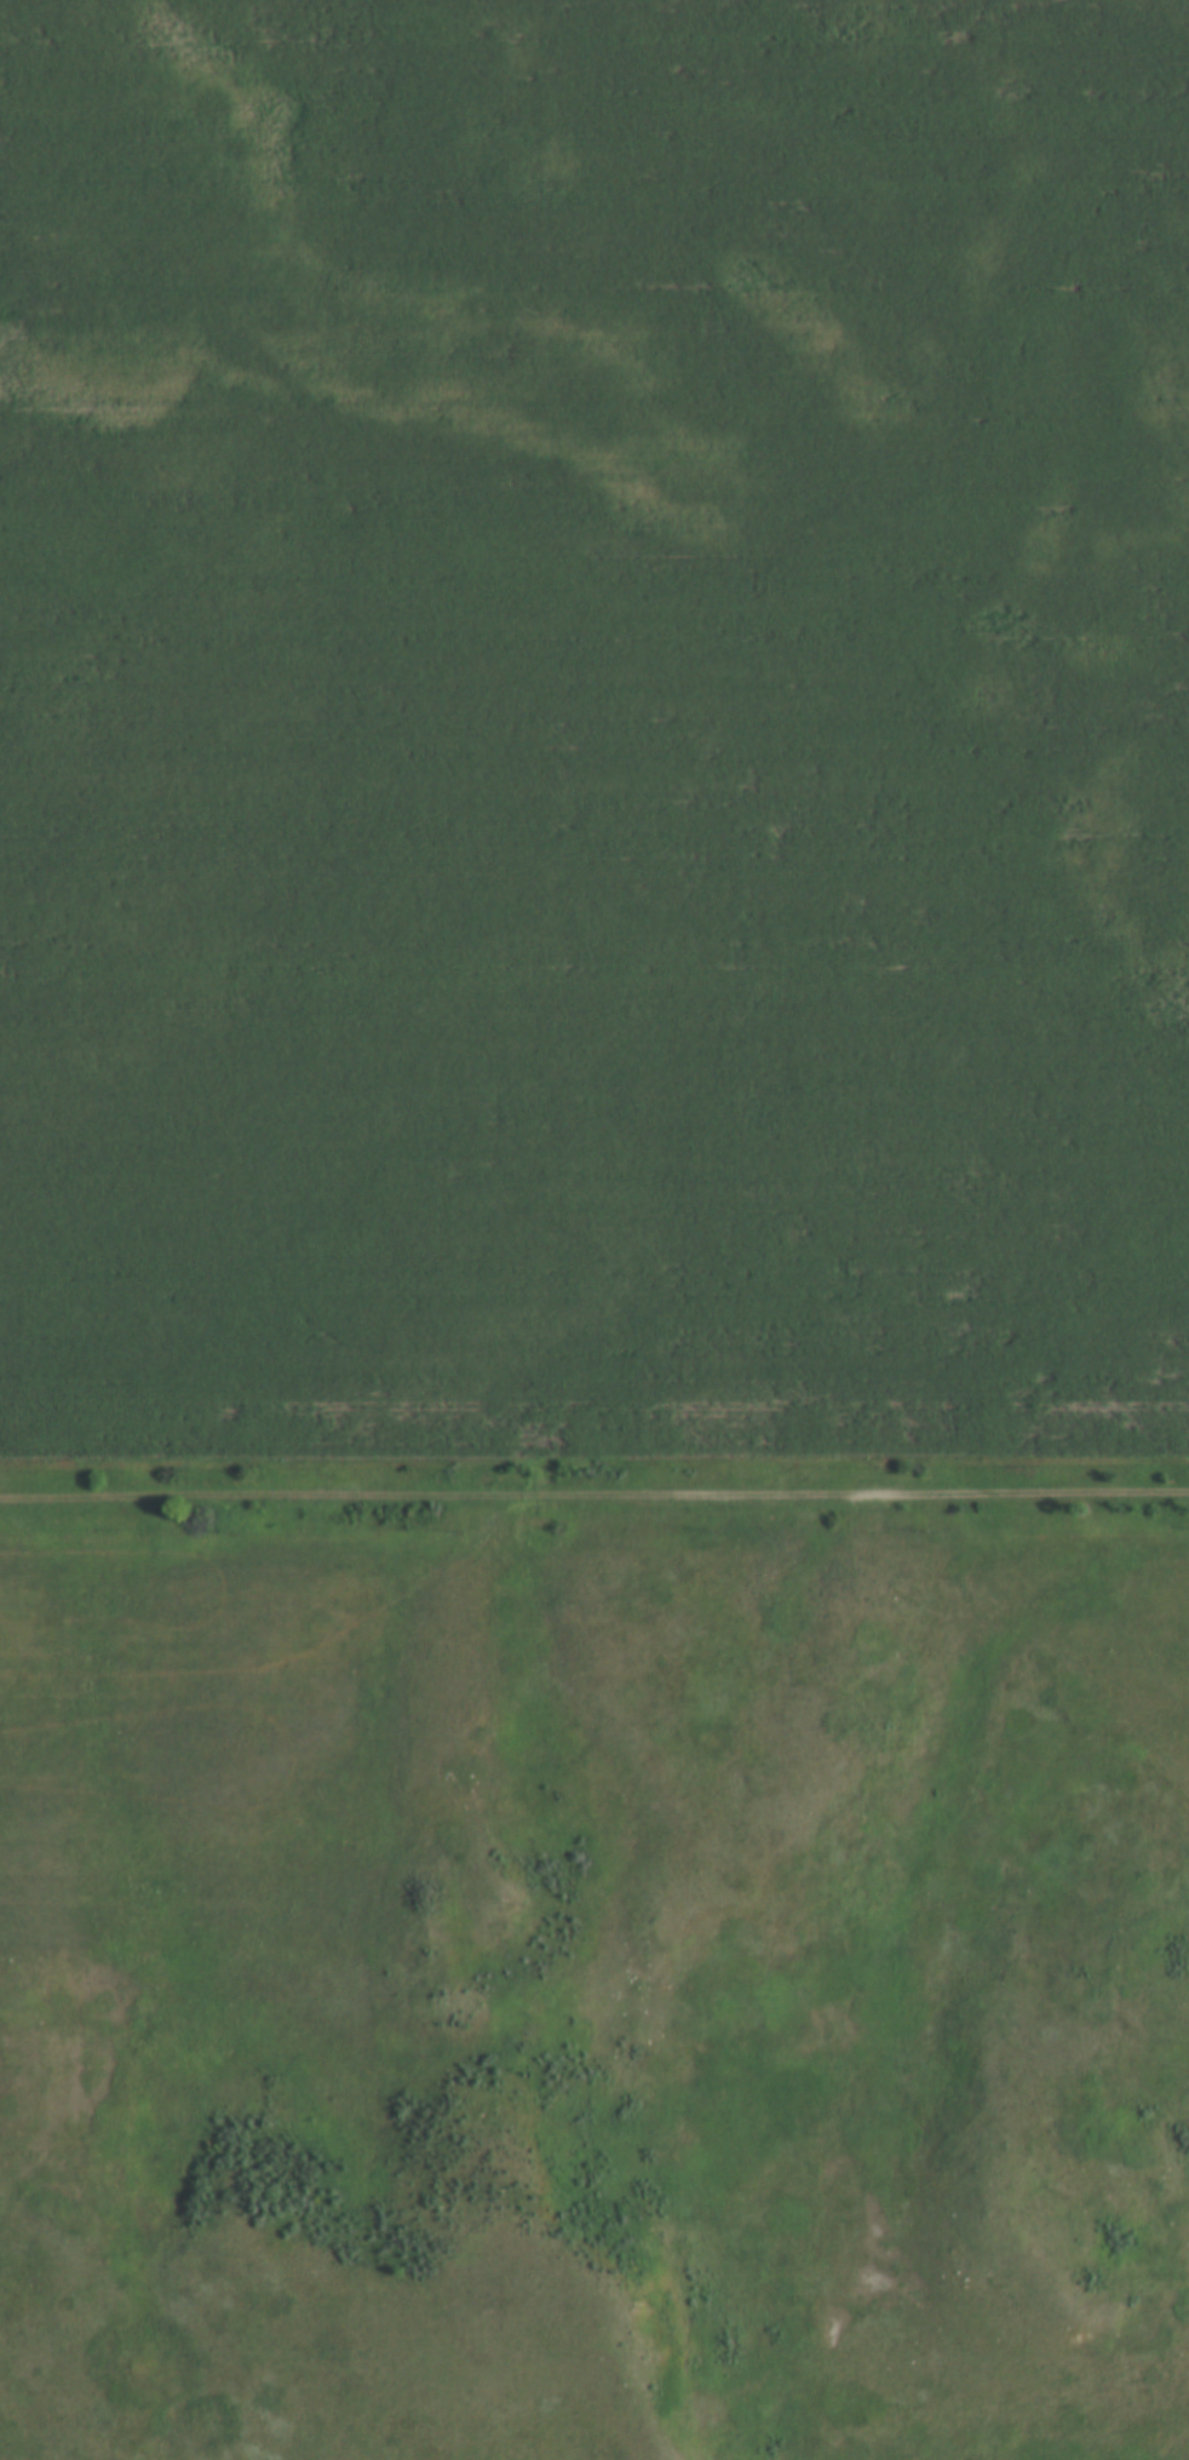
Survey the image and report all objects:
road: (593, 1491)

